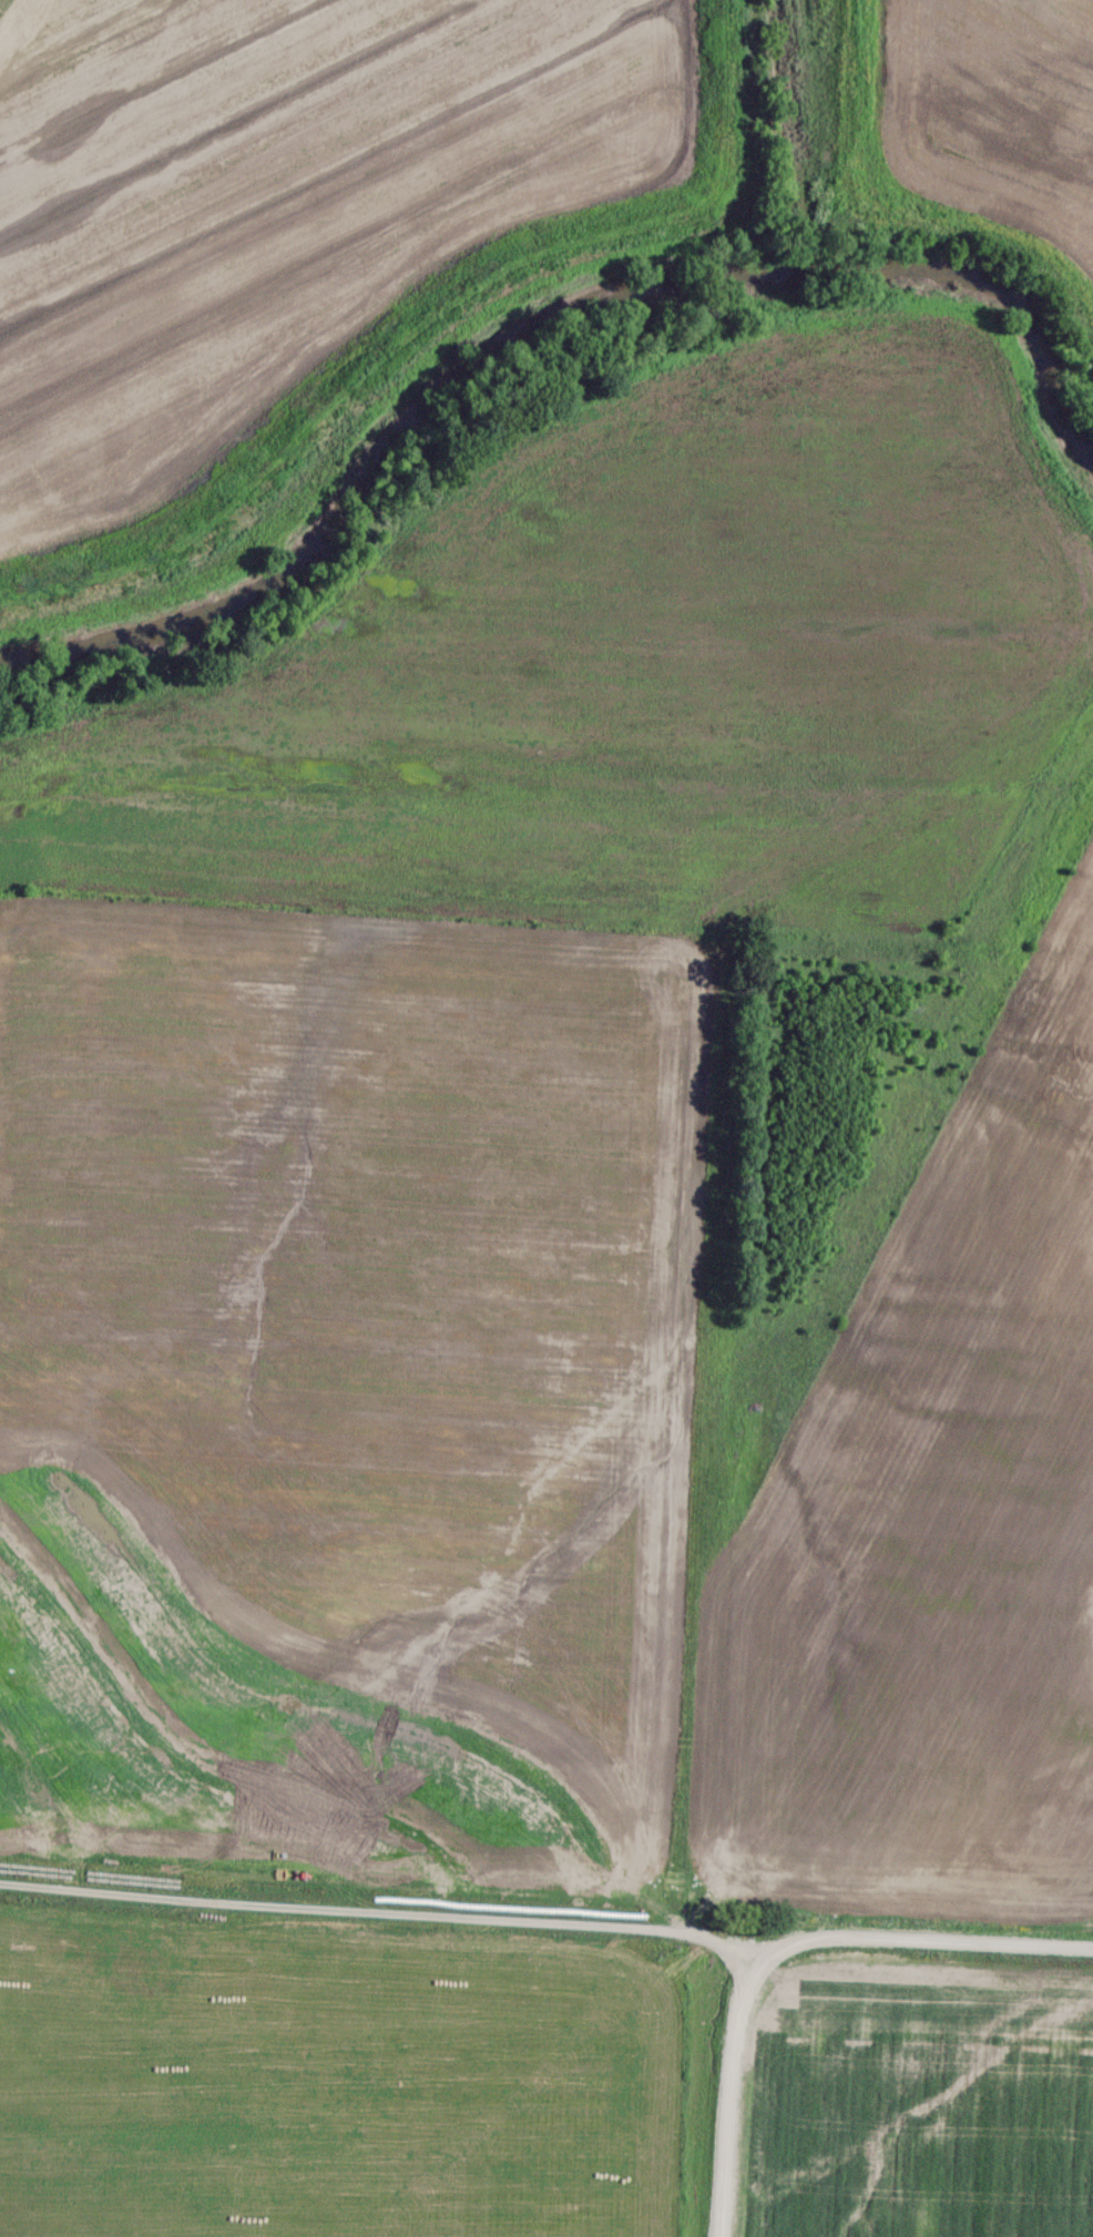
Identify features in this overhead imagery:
road: (374, 1917)
road: (777, 1942)

